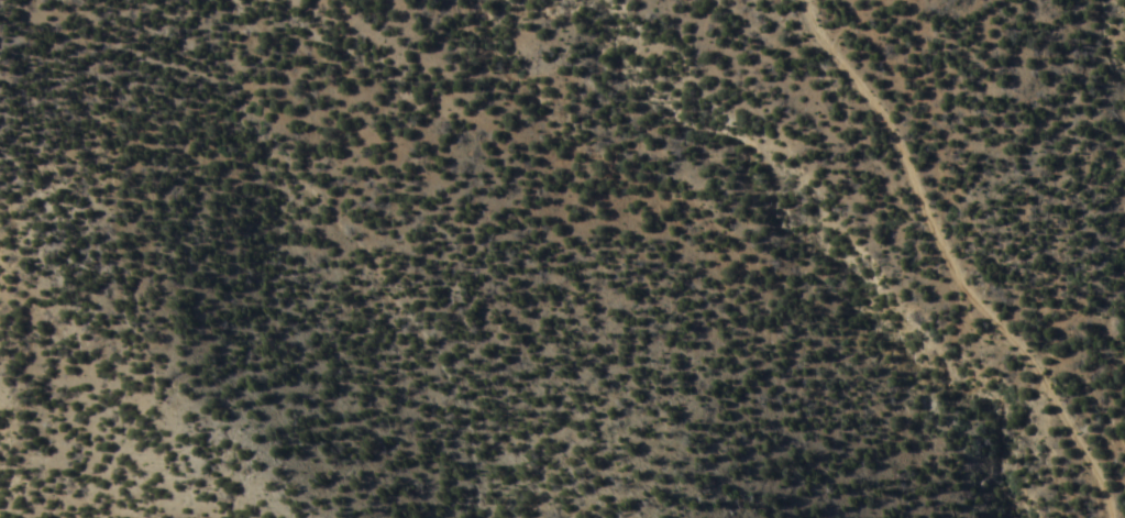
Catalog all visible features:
road: (960, 258)

